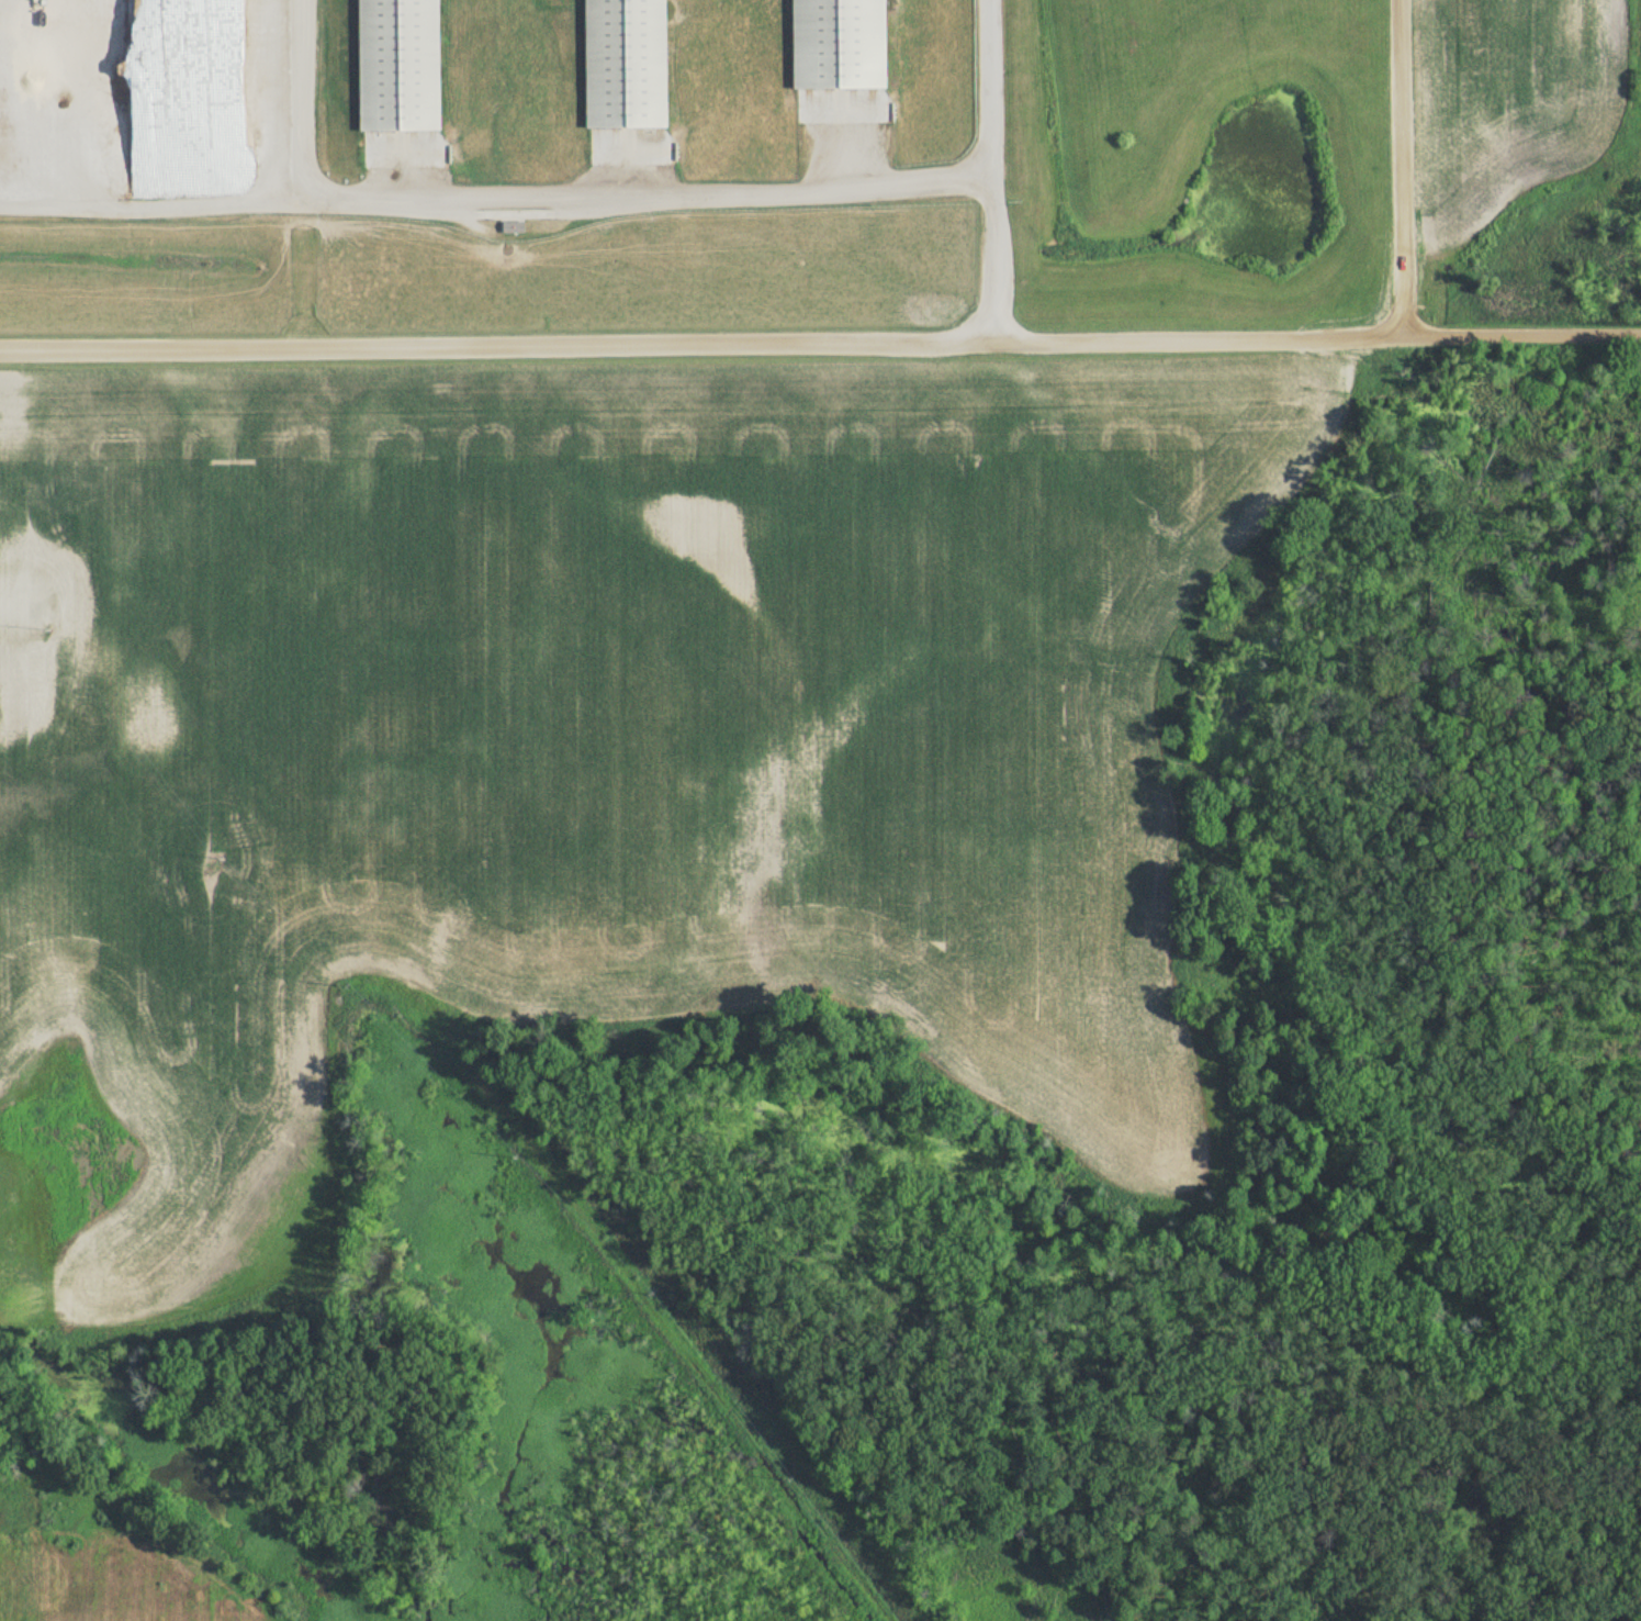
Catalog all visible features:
building: (26, 32)
building: (832, 45)
building: (620, 65)
building: (393, 66)
road: (1404, 169)
road: (640, 194)
building: (508, 227)
road: (993, 262)
road: (820, 343)

